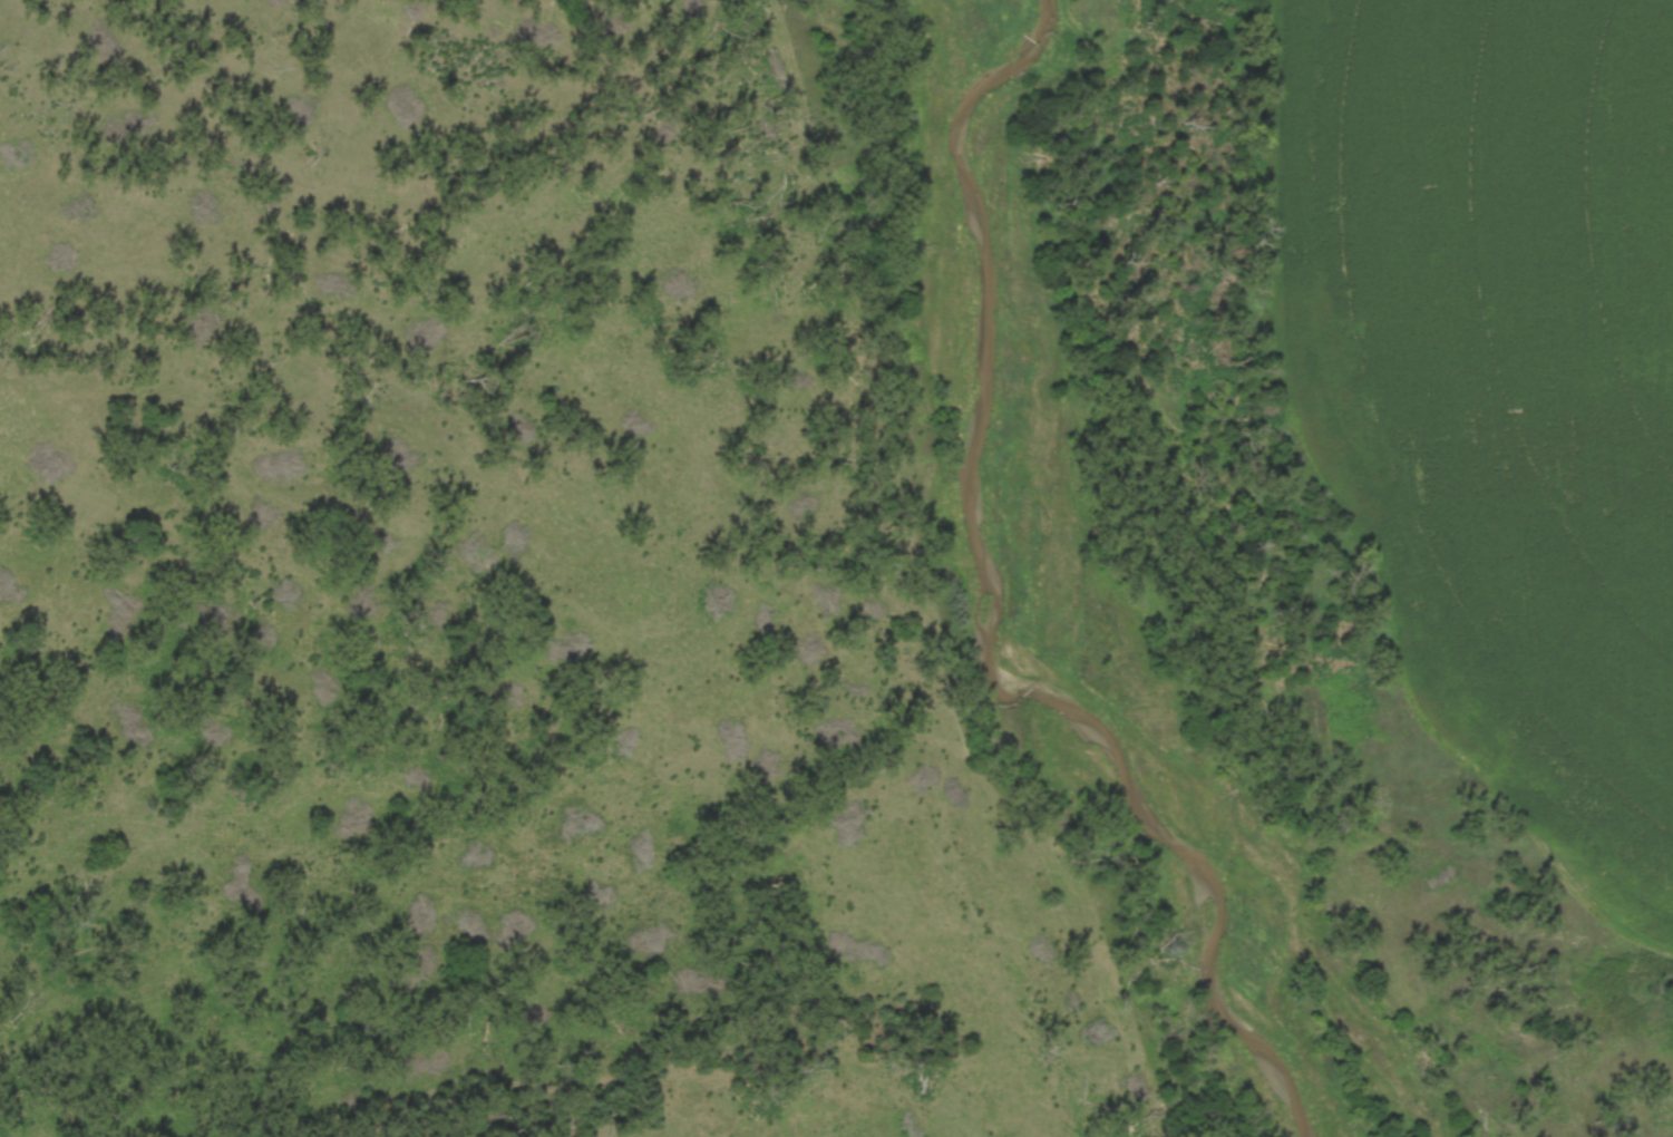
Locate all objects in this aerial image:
river: (988, 613)

